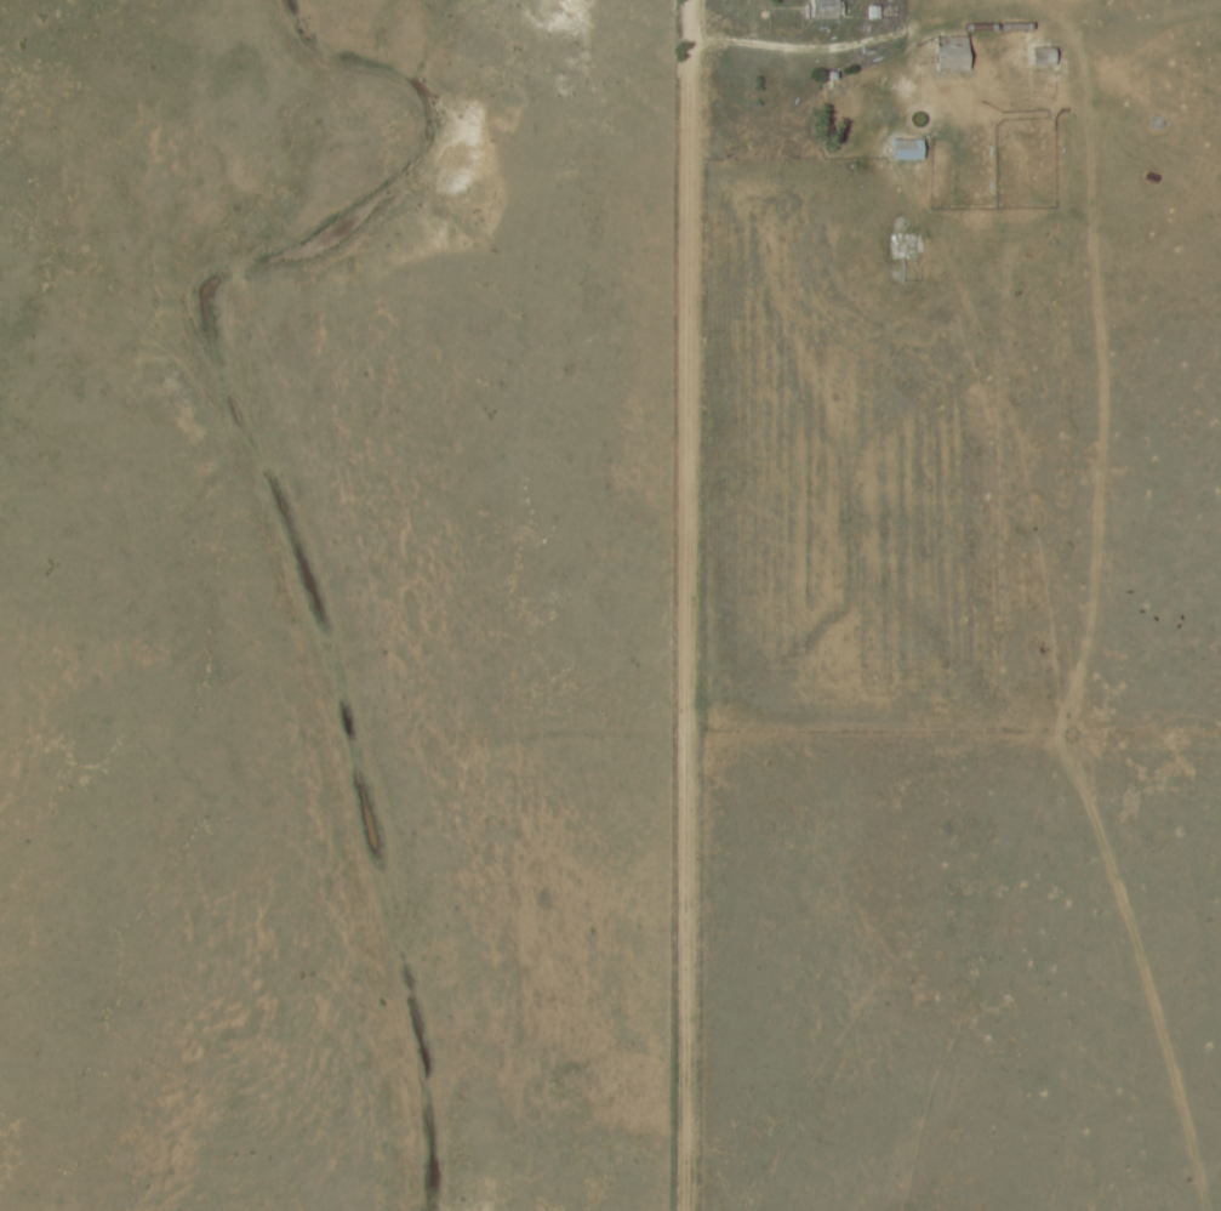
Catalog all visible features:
road: (749, 605)

